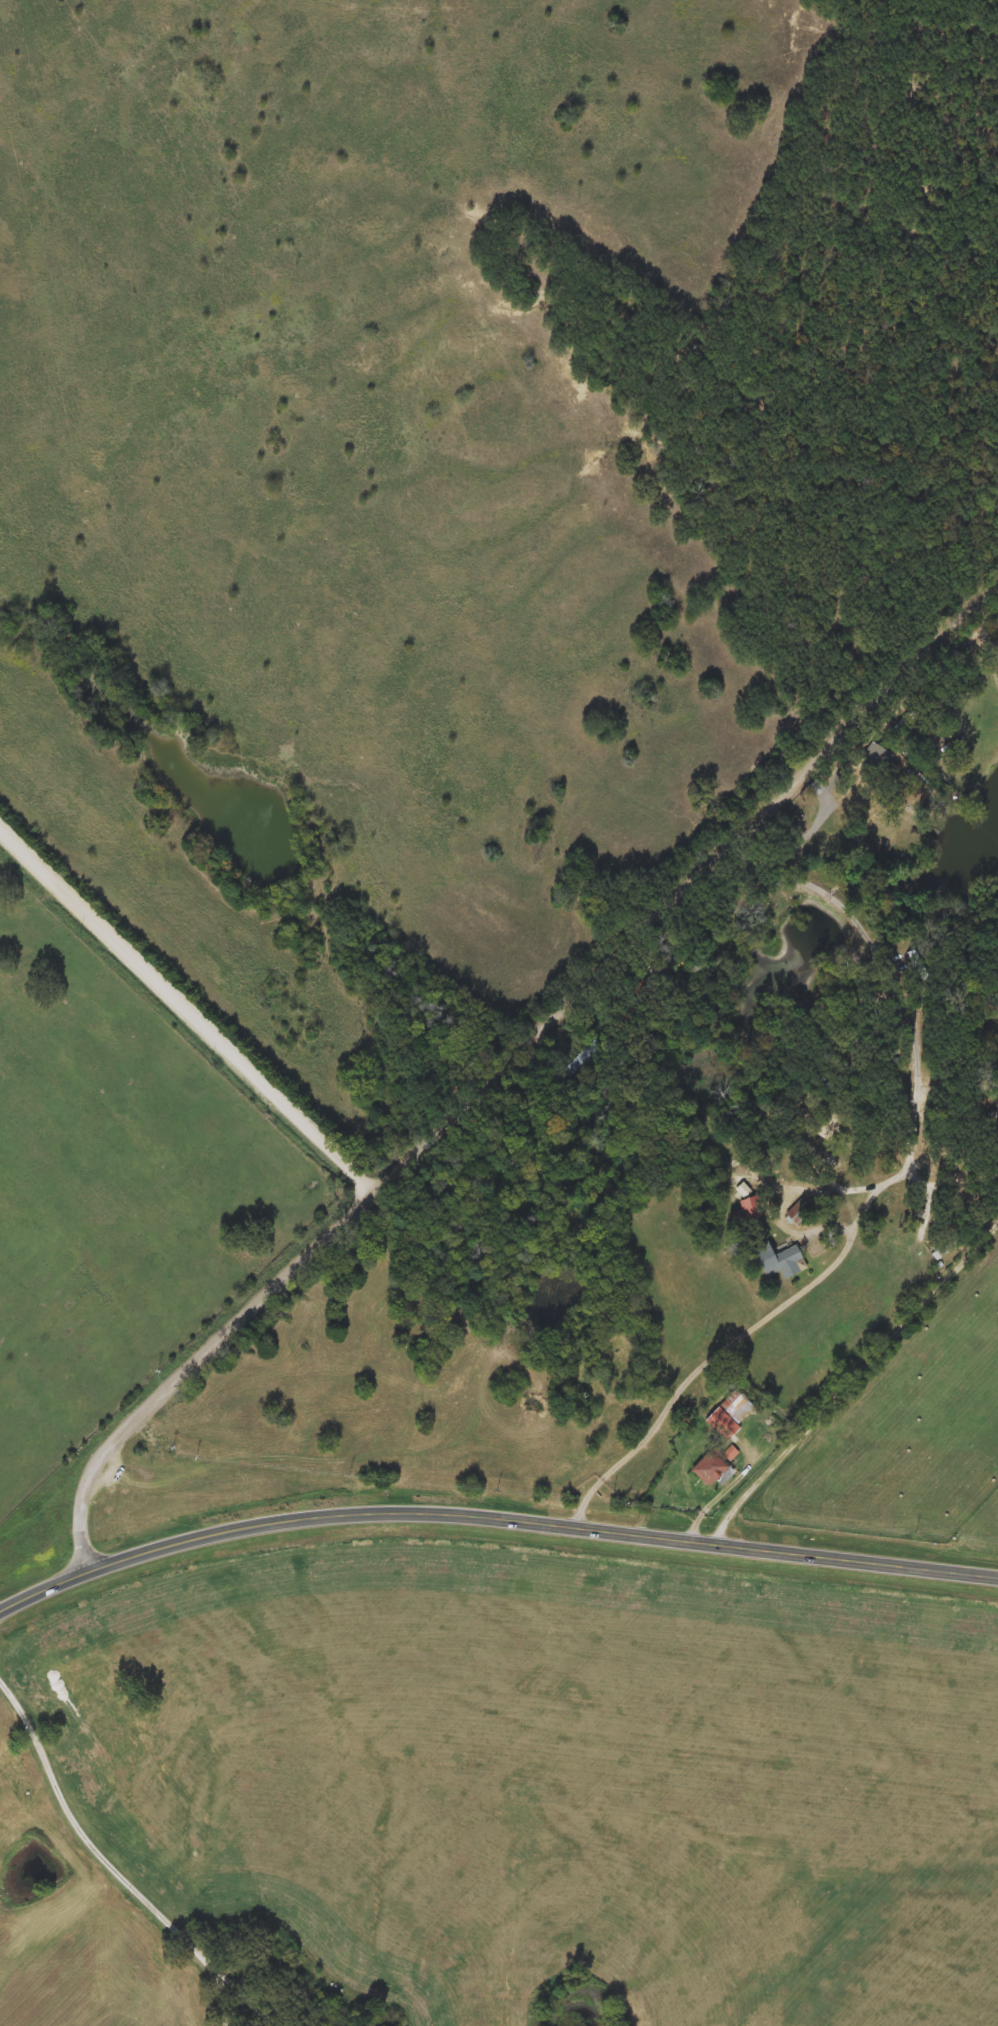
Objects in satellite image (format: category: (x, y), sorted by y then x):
road: (682, 885)
building: (640, 997)
road: (187, 1010)
road: (964, 1104)
building: (829, 1126)
road: (873, 1193)
building: (947, 1247)
building: (777, 1261)
road: (191, 1366)
road: (847, 1378)
building: (730, 1415)
building: (713, 1468)
road: (492, 1515)
road: (116, 1869)
road: (229, 2001)

